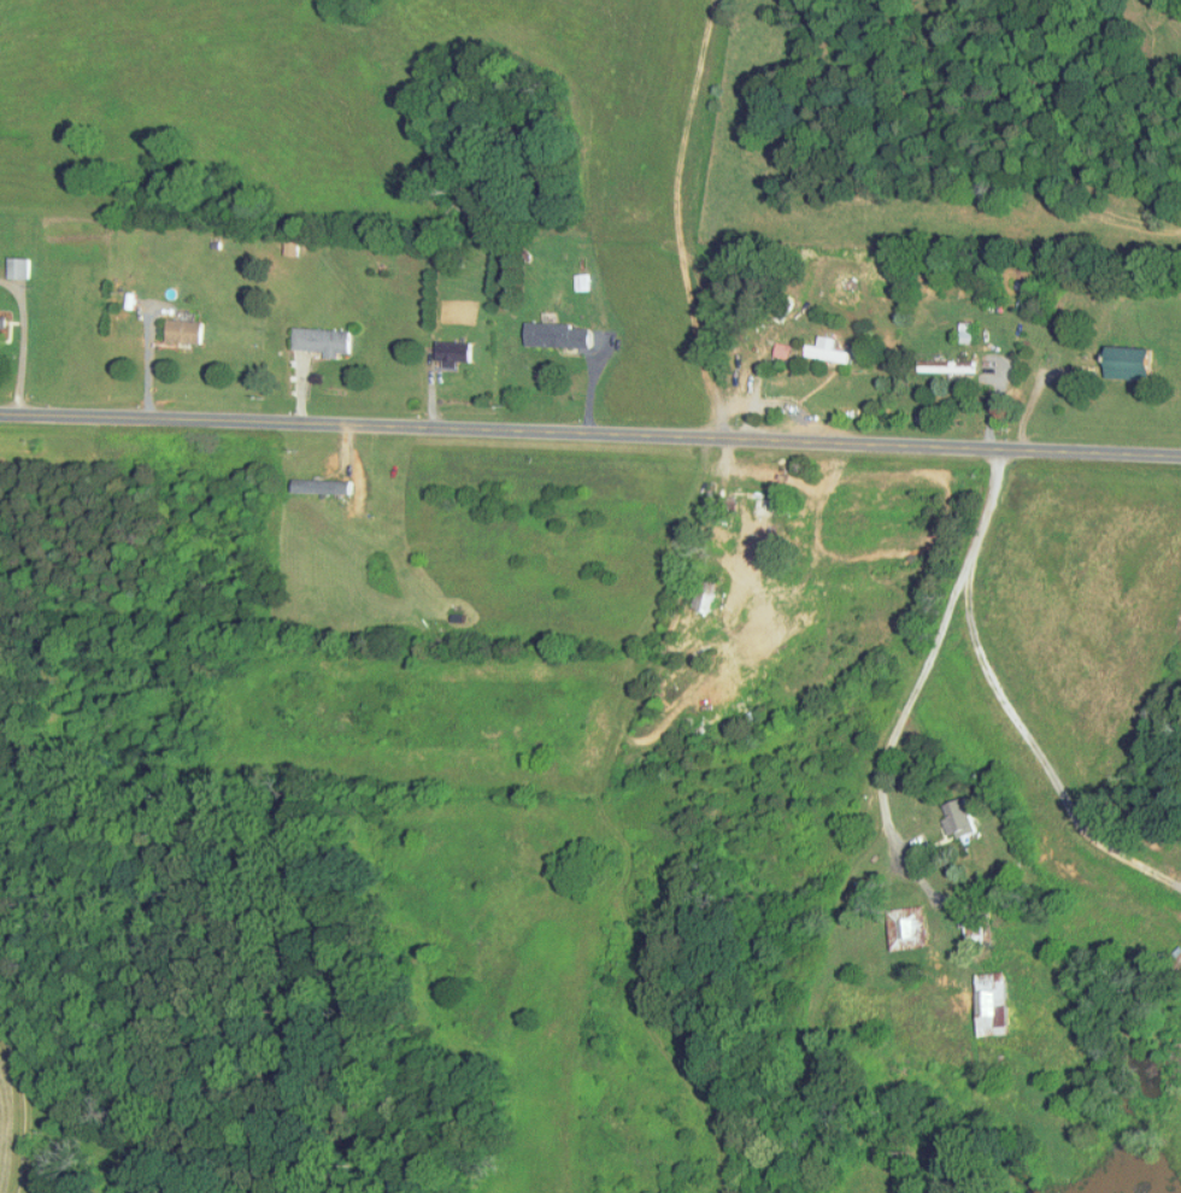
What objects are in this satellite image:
building: (18, 268)
building: (581, 282)
building: (1, 322)
building: (184, 331)
building: (966, 331)
building: (557, 335)
road: (24, 340)
building: (322, 341)
building: (827, 349)
building: (454, 353)
building: (1130, 363)
building: (947, 366)
road: (589, 441)
building: (323, 484)
road: (935, 645)
building: (958, 817)
building: (973, 919)
building: (912, 927)
building: (1176, 960)
building: (994, 1003)

